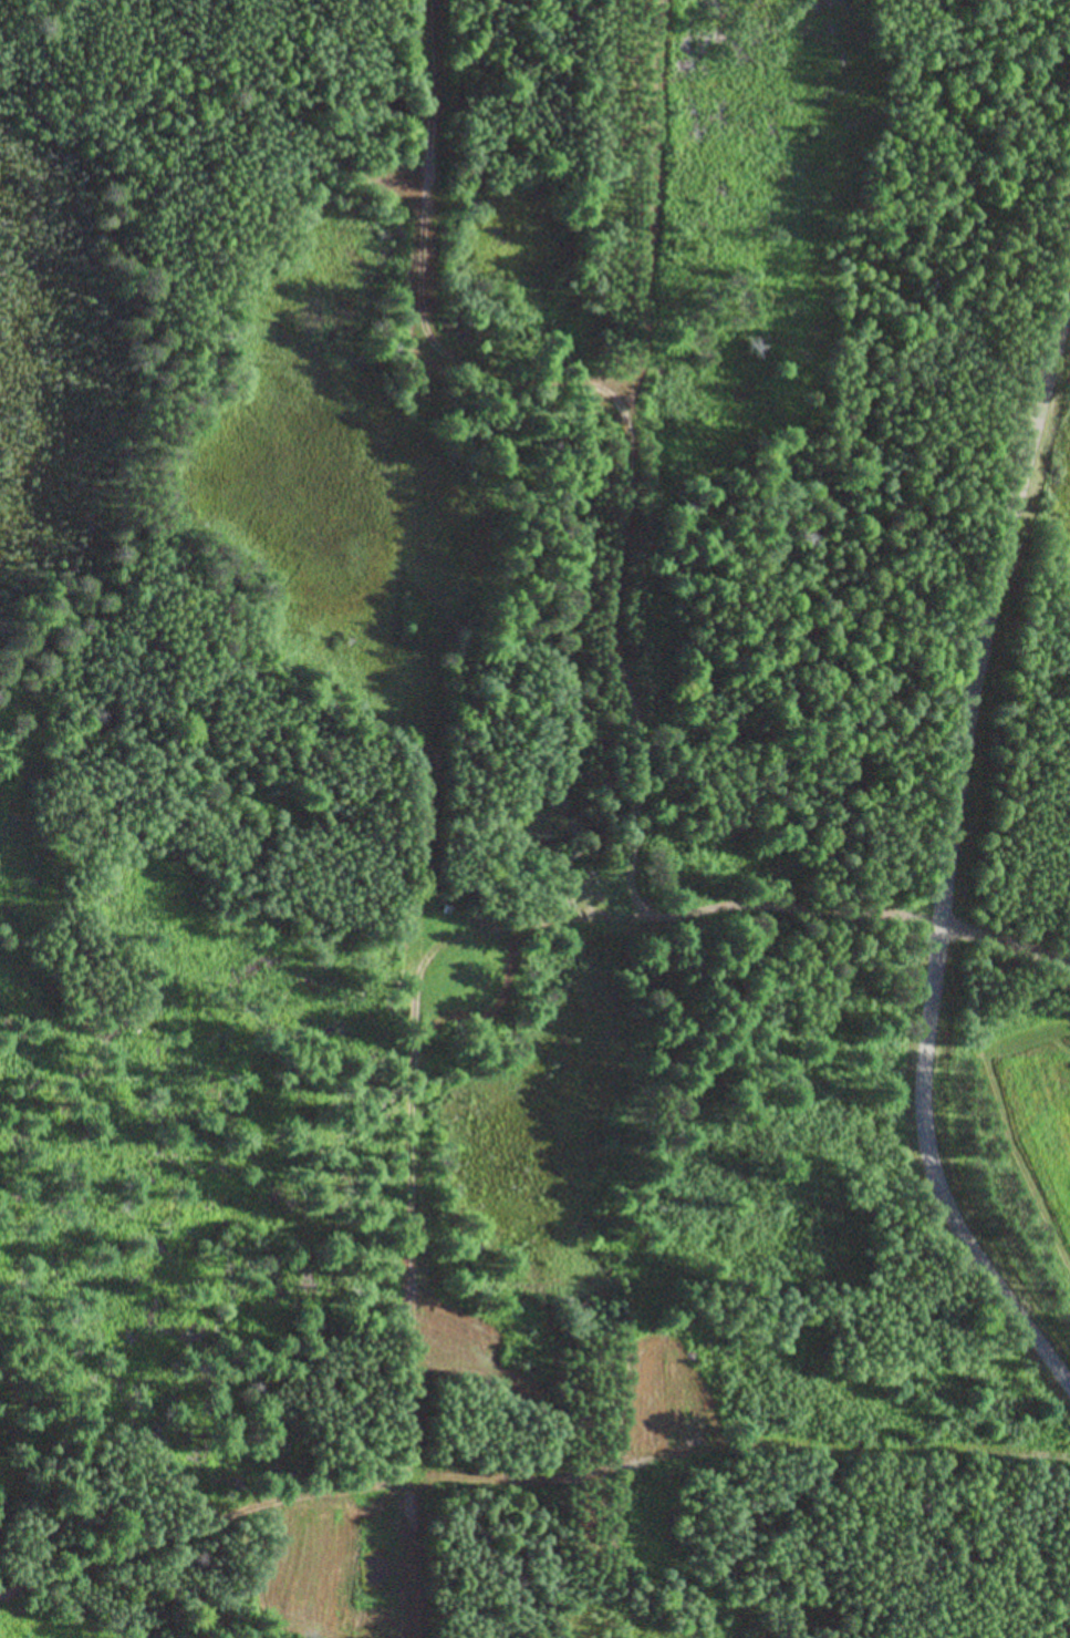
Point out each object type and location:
road: (950, 854)

